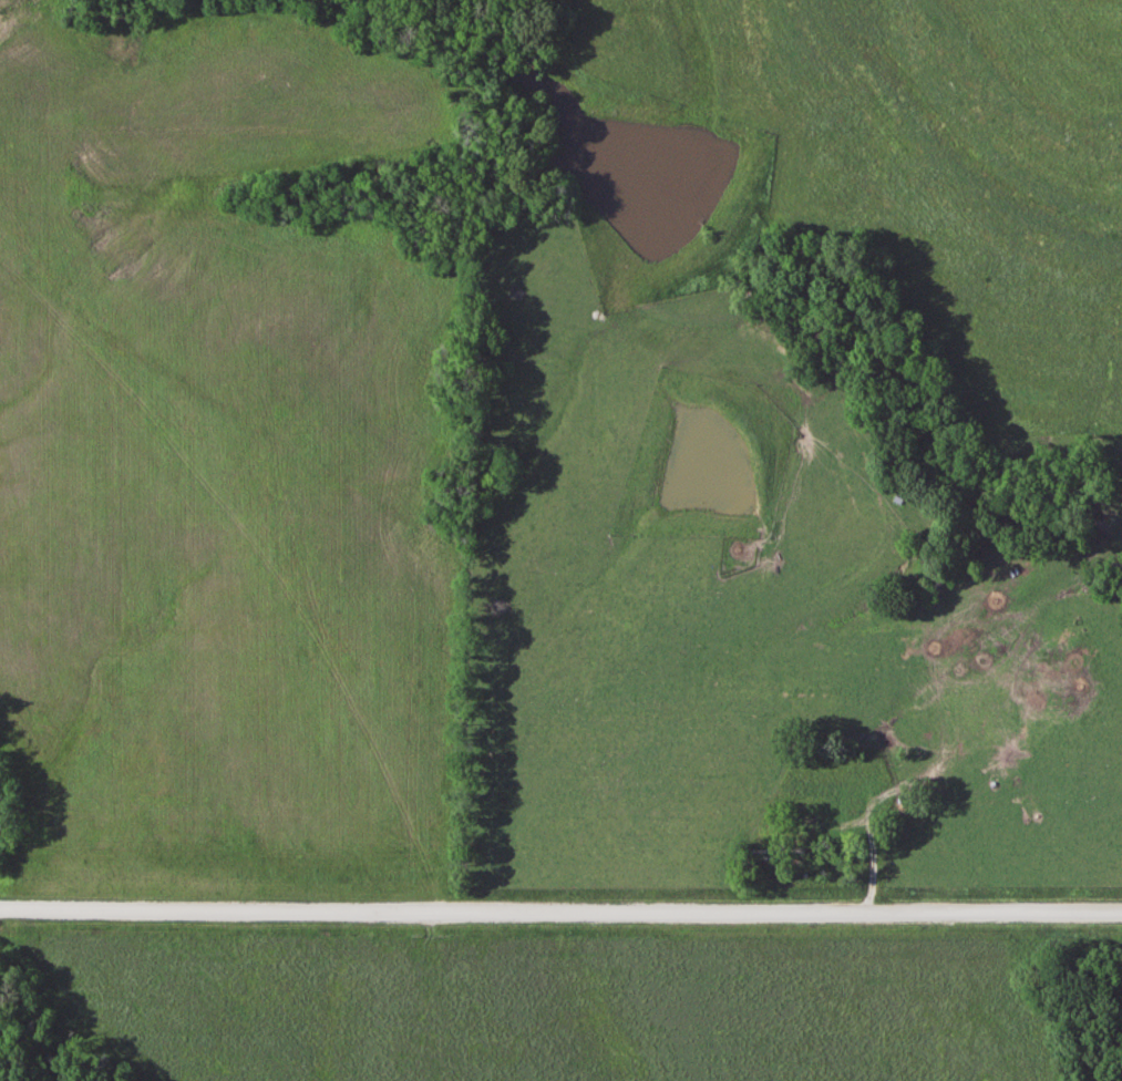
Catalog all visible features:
road: (560, 913)

